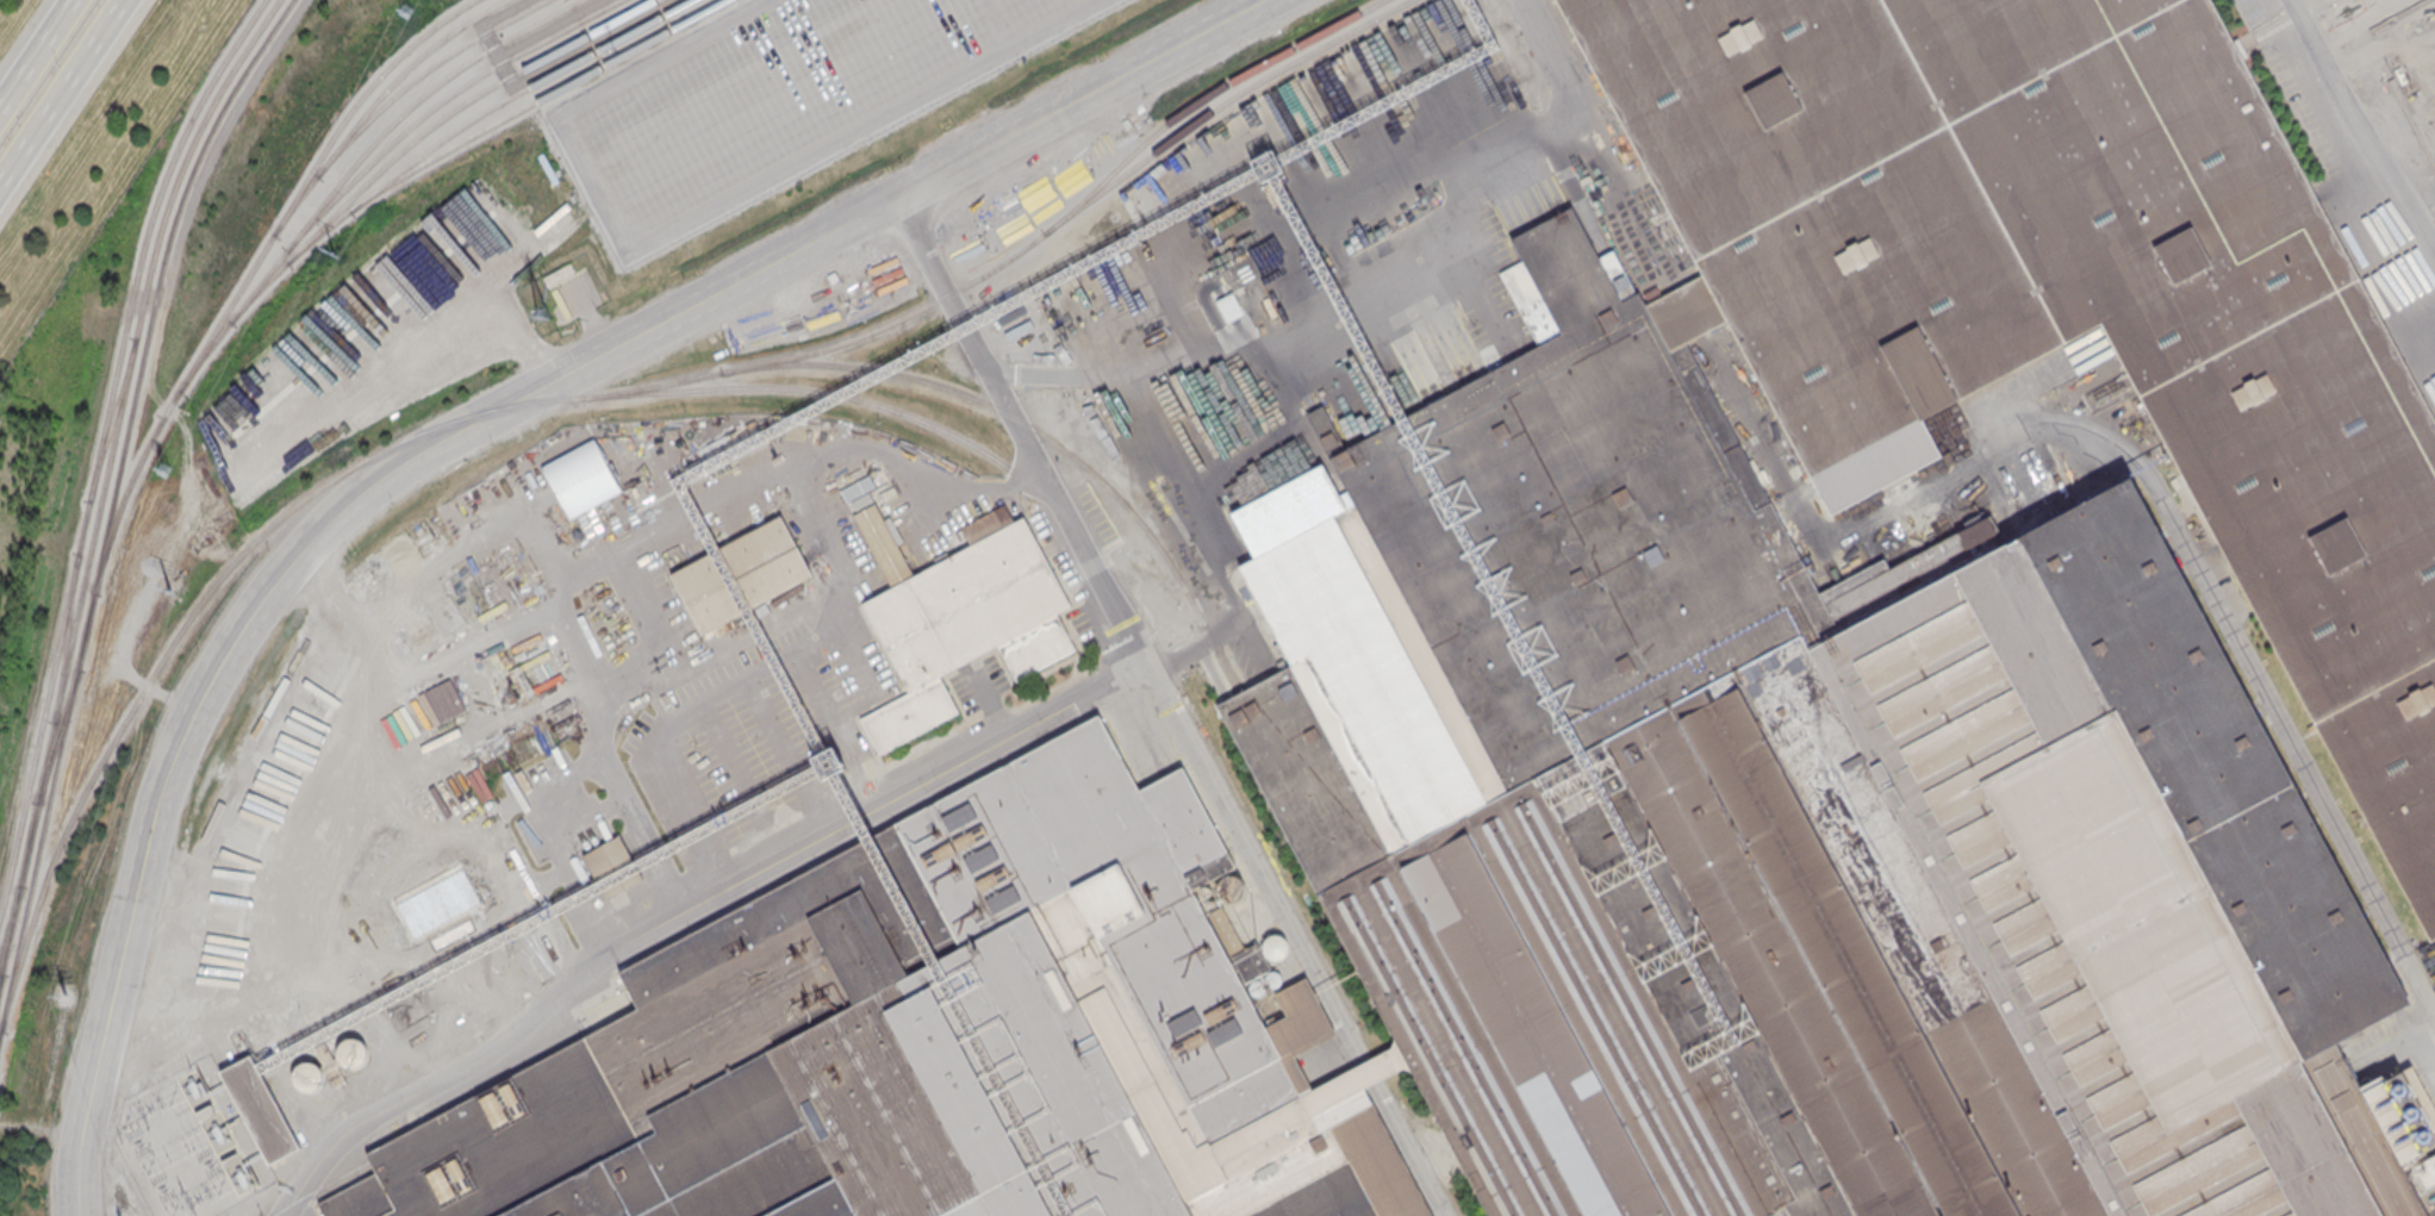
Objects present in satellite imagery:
power tower: (405, 11)
road: (505, 13)
road: (2359, 23)
road: (999, 24)
road: (553, 29)
building: (518, 30)
railway: (254, 38)
railway: (267, 42)
road: (38, 56)
road: (563, 58)
railway: (423, 74)
parking lot: (2300, 85)
road: (58, 86)
parking lot: (776, 99)
railway: (1203, 99)
railway: (375, 101)
railway: (536, 102)
railway: (440, 105)
railway: (349, 113)
railway: (480, 116)
road: (2360, 126)
railway: (423, 133)
railway: (354, 164)
road: (1528, 198)
road: (1469, 199)
road: (1628, 213)
road: (689, 218)
building: (559, 274)
road: (1437, 326)
road: (2415, 332)
street lamp: (577, 337)
road: (419, 344)
railway: (587, 397)
railway: (112, 420)
railway: (162, 422)
road: (460, 432)
railway: (1040, 432)
railway: (100, 447)
power tower: (163, 469)
building: (580, 476)
road: (2150, 479)
building: (858, 487)
building: (861, 501)
railway: (99, 511)
road: (826, 525)
road: (647, 537)
building: (882, 544)
railway: (101, 550)
road: (588, 572)
building: (740, 575)
building: (965, 604)
railway: (1151, 631)
road: (472, 636)
building: (1035, 647)
road: (1196, 648)
building: (1877, 657)
road: (768, 665)
road: (1167, 706)
building: (908, 713)
parking lot: (761, 735)
road: (786, 754)
road: (734, 760)
road: (398, 782)
road: (566, 800)
road: (500, 803)
building: (612, 865)
road: (687, 908)
railway: (10, 935)
railway: (0, 977)
building: (1297, 1027)
building: (921, 1040)
building: (351, 1054)
building: (306, 1078)
building: (1350, 1086)
building: (260, 1109)
power substation: (183, 1143)
building: (1378, 1164)
railway: (322, 1189)

